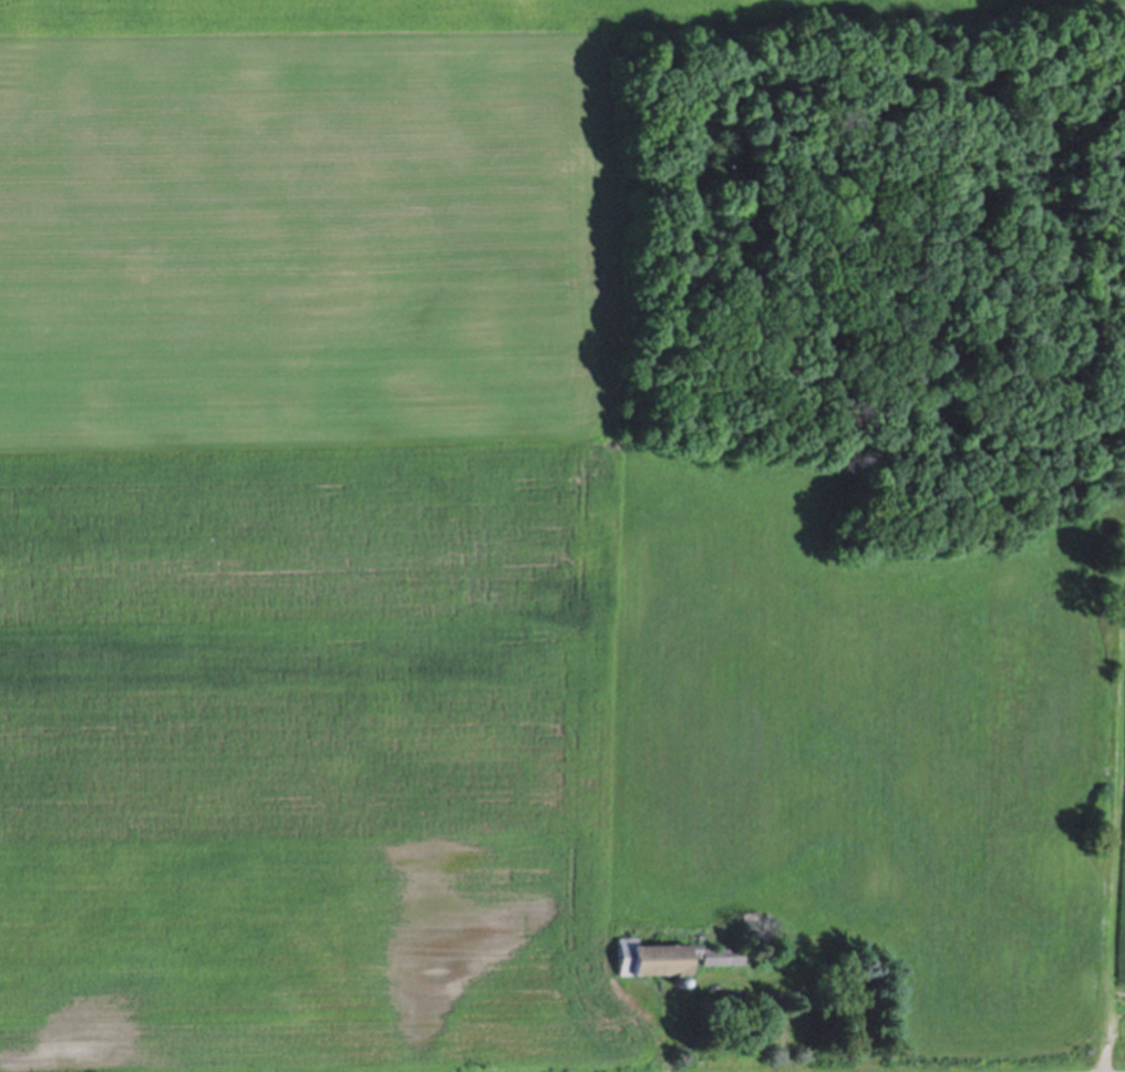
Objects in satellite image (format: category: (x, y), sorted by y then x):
building: (664, 956)
road: (669, 1042)

